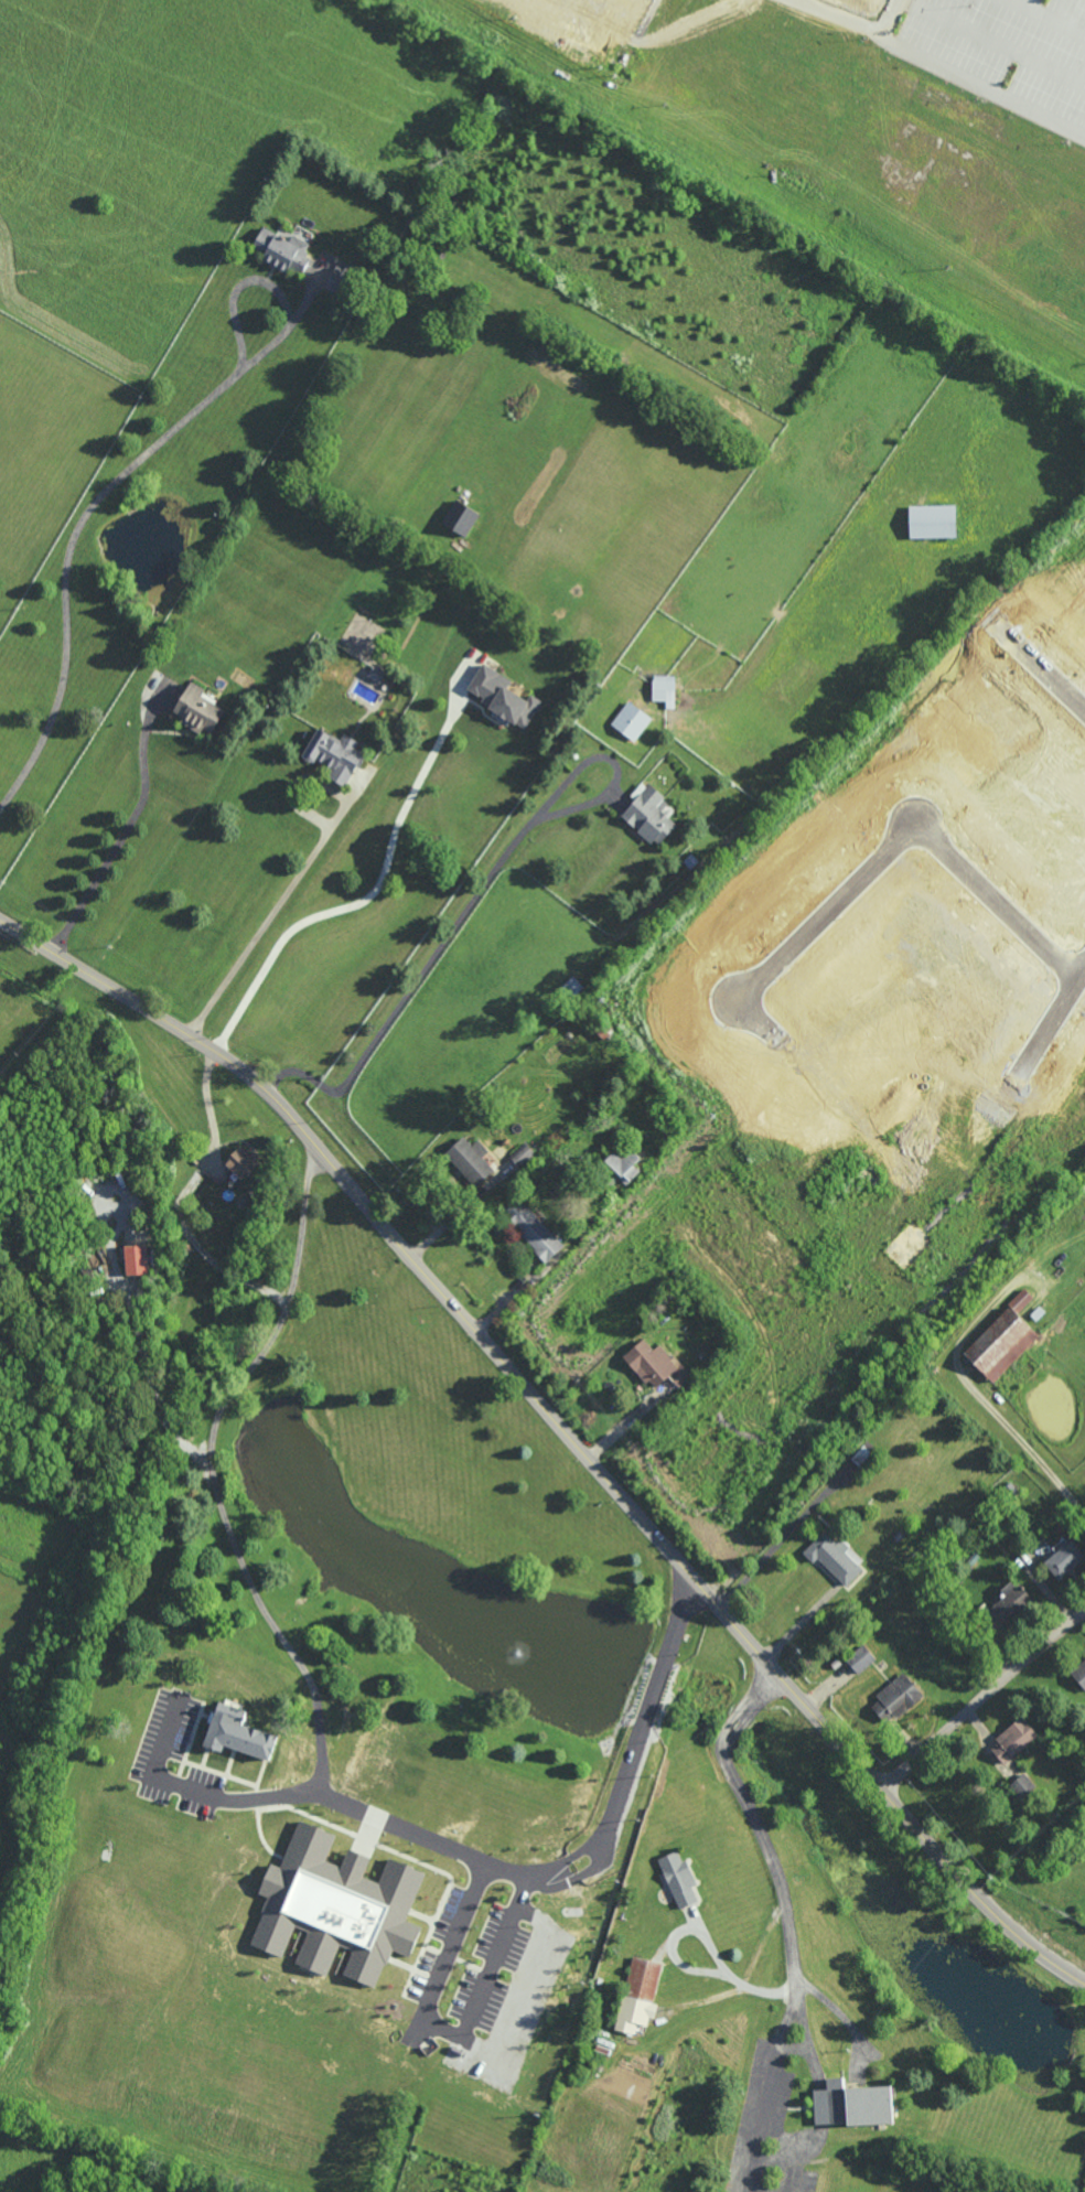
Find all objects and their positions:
road: (1050, 15)
road: (887, 18)
road: (992, 42)
road: (941, 65)
building: (281, 252)
building: (340, 278)
road: (264, 282)
building: (459, 519)
building: (932, 523)
road: (65, 557)
building: (375, 674)
road: (1039, 680)
building: (663, 690)
building: (509, 701)
building: (198, 710)
building: (630, 722)
building: (333, 756)
building: (648, 813)
road: (125, 825)
road: (895, 848)
road: (302, 870)
road: (474, 900)
road: (361, 902)
road: (1053, 1009)
road: (211, 1108)
building: (523, 1154)
building: (469, 1160)
building: (240, 1163)
building: (622, 1164)
building: (533, 1229)
building: (137, 1259)
building: (1000, 1344)
building: (654, 1364)
road: (981, 1398)
road: (627, 1421)
road: (561, 1430)
building: (834, 1557)
building: (1063, 1560)
road: (253, 1586)
building: (1011, 1602)
road: (799, 1627)
building: (859, 1659)
building: (1079, 1675)
building: (894, 1699)
road: (981, 1699)
road: (643, 1709)
building: (224, 1730)
building: (1012, 1742)
road: (201, 1786)
building: (1022, 1786)
building: (196, 1801)
road: (573, 1855)
road: (772, 1858)
road: (582, 1871)
building: (678, 1880)
building: (337, 1906)
building: (637, 1996)
road: (788, 2020)
road: (845, 2020)
road: (444, 2032)
building: (851, 2105)

